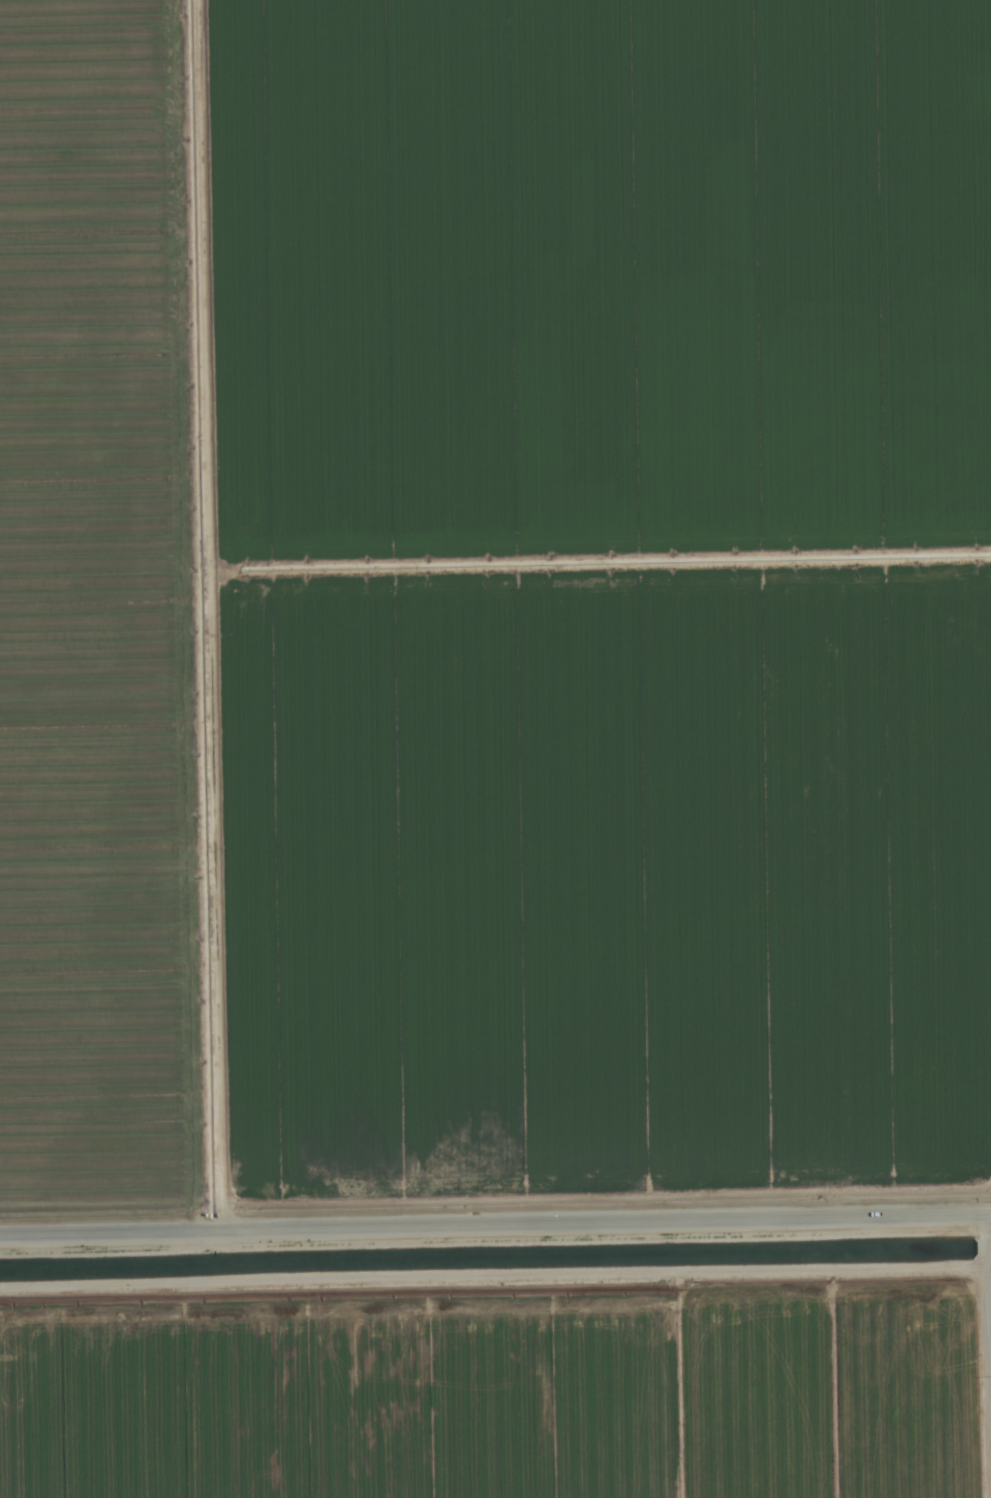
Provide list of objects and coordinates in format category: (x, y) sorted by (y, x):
road: (988, 1224)
road: (495, 1225)
road: (989, 1250)
road: (990, 1308)

